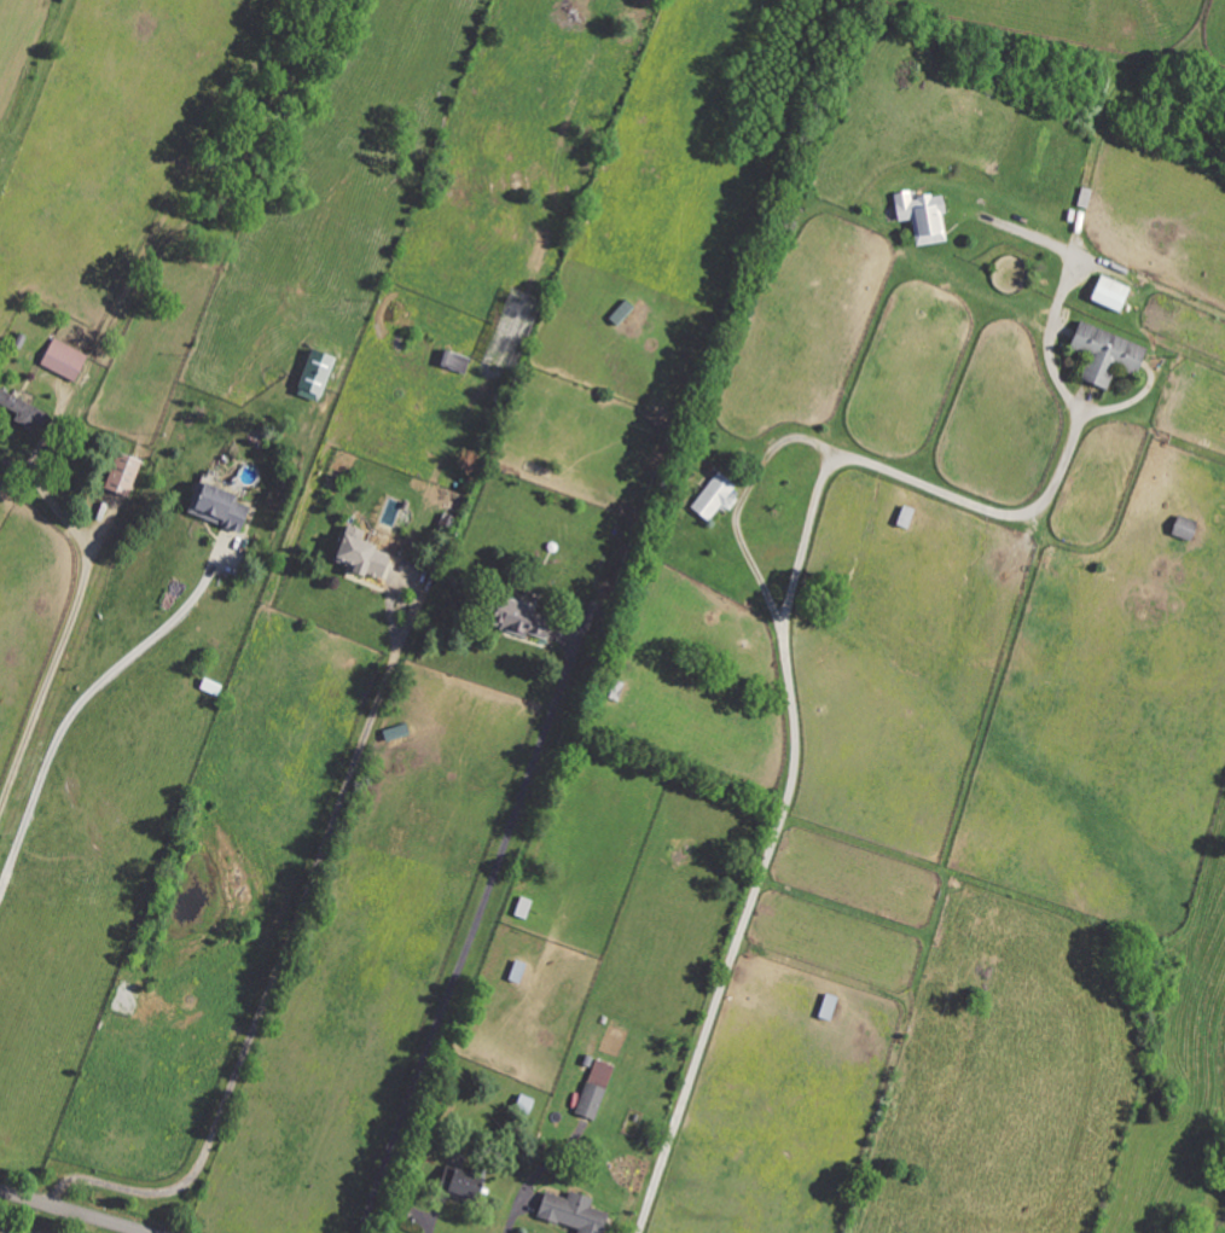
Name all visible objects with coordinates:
building: (918, 216)
building: (1104, 292)
building: (1102, 354)
building: (62, 360)
building: (312, 376)
building: (22, 412)
building: (120, 475)
building: (710, 496)
road: (741, 504)
building: (214, 507)
building: (1180, 528)
building: (355, 554)
road: (796, 572)
building: (516, 620)
road: (64, 638)
road: (77, 704)
road: (469, 938)
road: (278, 965)
building: (824, 1007)
building: (592, 1089)
road: (535, 1176)
building: (458, 1185)
road: (71, 1212)
building: (568, 1212)

